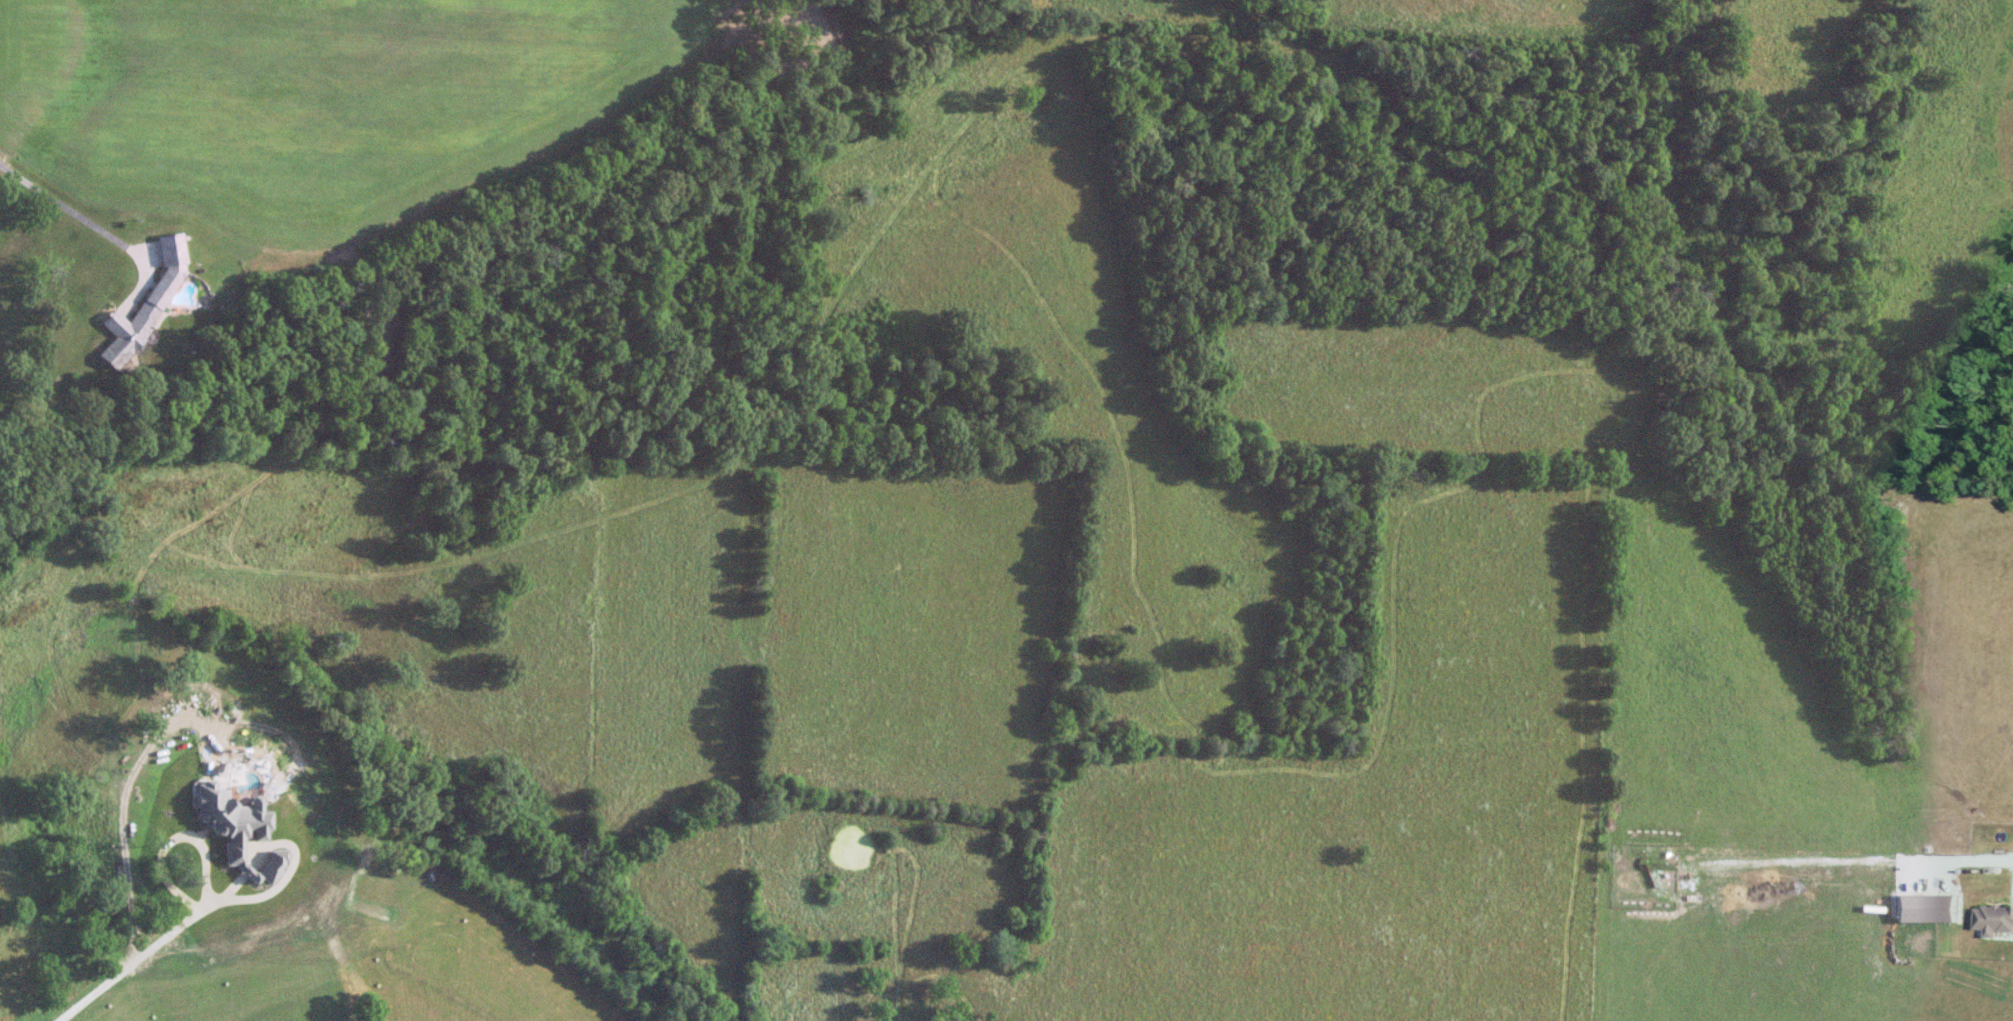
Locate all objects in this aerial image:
road: (72, 212)
building: (125, 331)
road: (172, 837)
road: (1958, 858)
road: (279, 880)
building: (1994, 918)
road: (128, 964)

